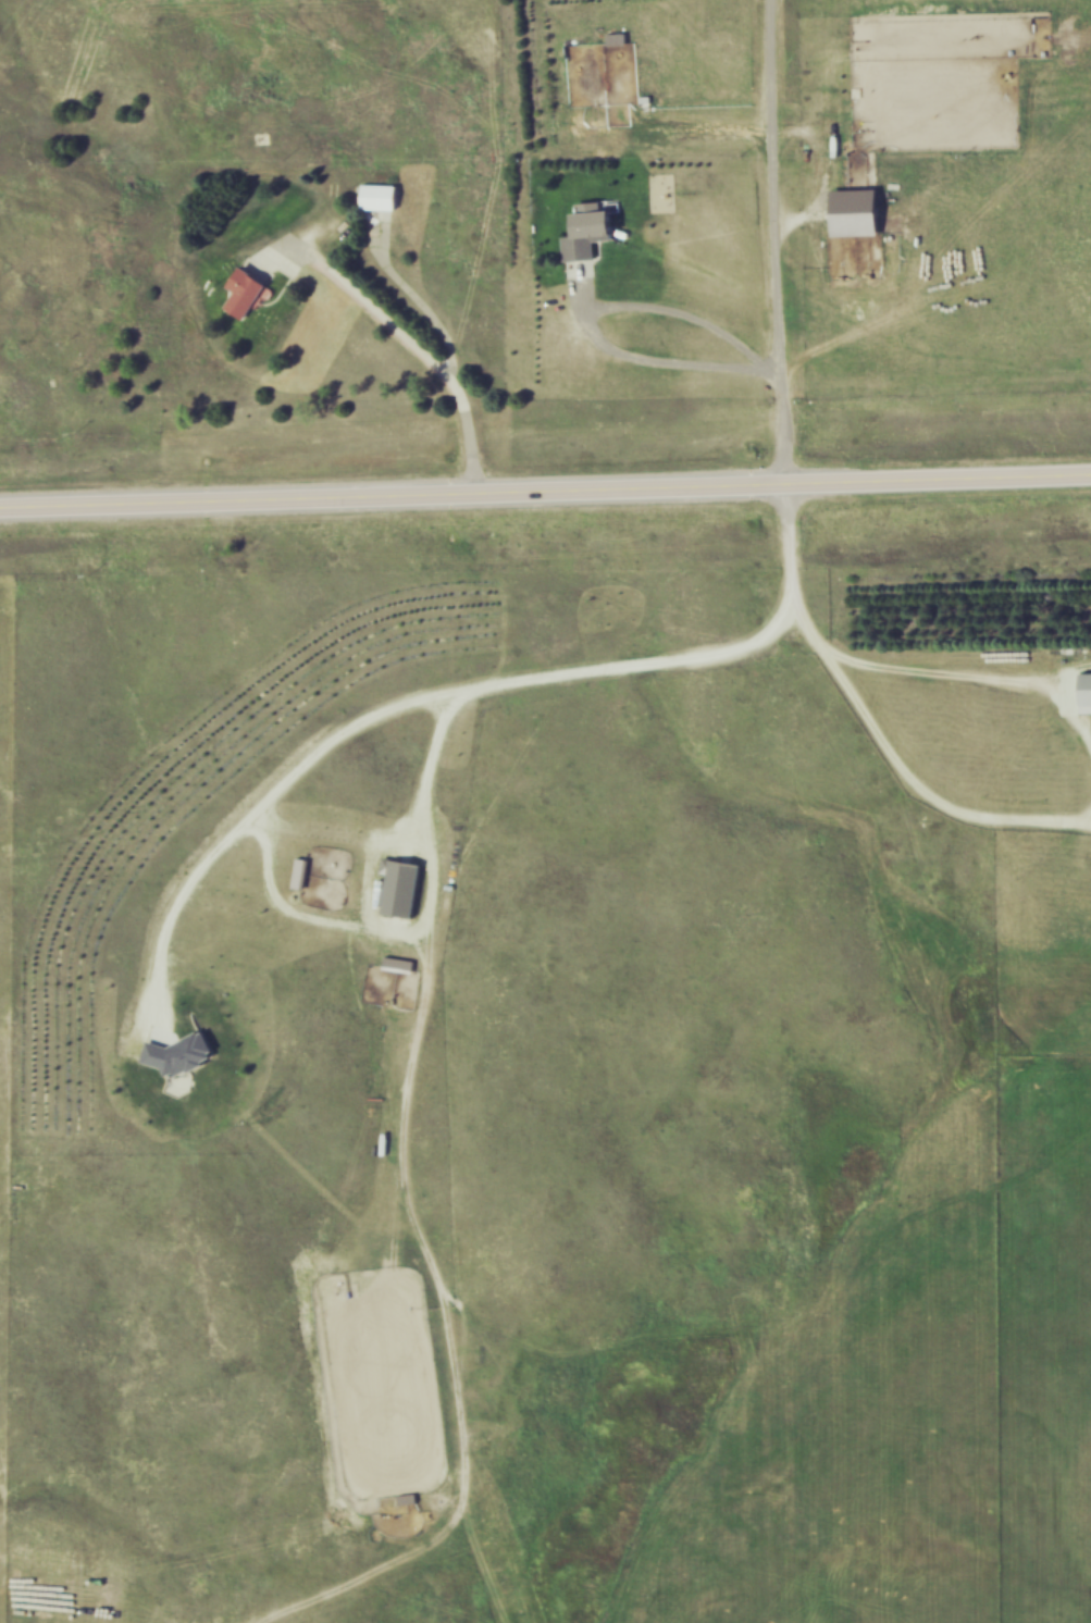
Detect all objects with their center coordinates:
building: (621, 37)
building: (382, 195)
building: (591, 231)
road: (702, 274)
building: (249, 290)
road: (420, 356)
road: (545, 501)
road: (782, 508)
building: (1088, 691)

